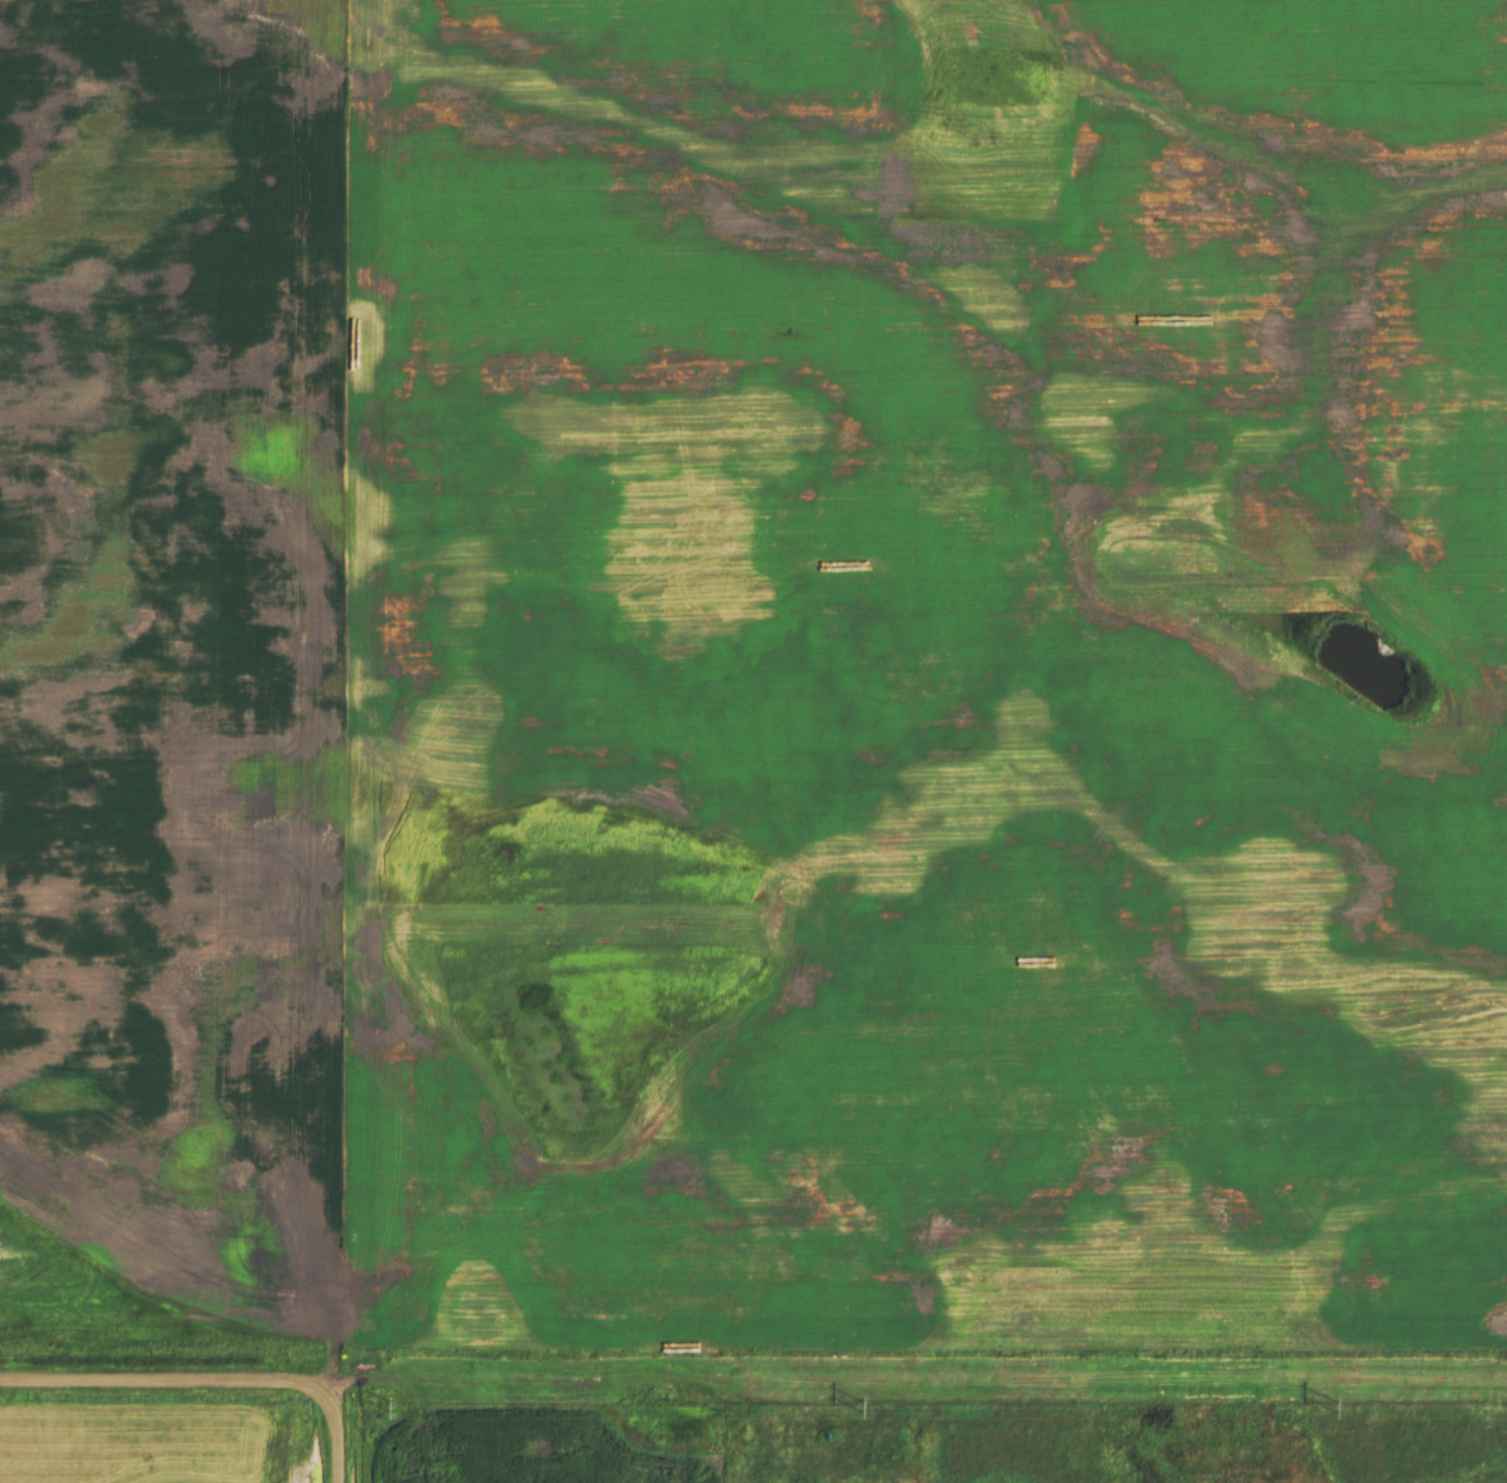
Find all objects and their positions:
road: (912, 1376)
road: (162, 1383)
power tower: (390, 1407)
power tower: (863, 1407)
power tower: (1336, 1407)
road: (336, 1438)

